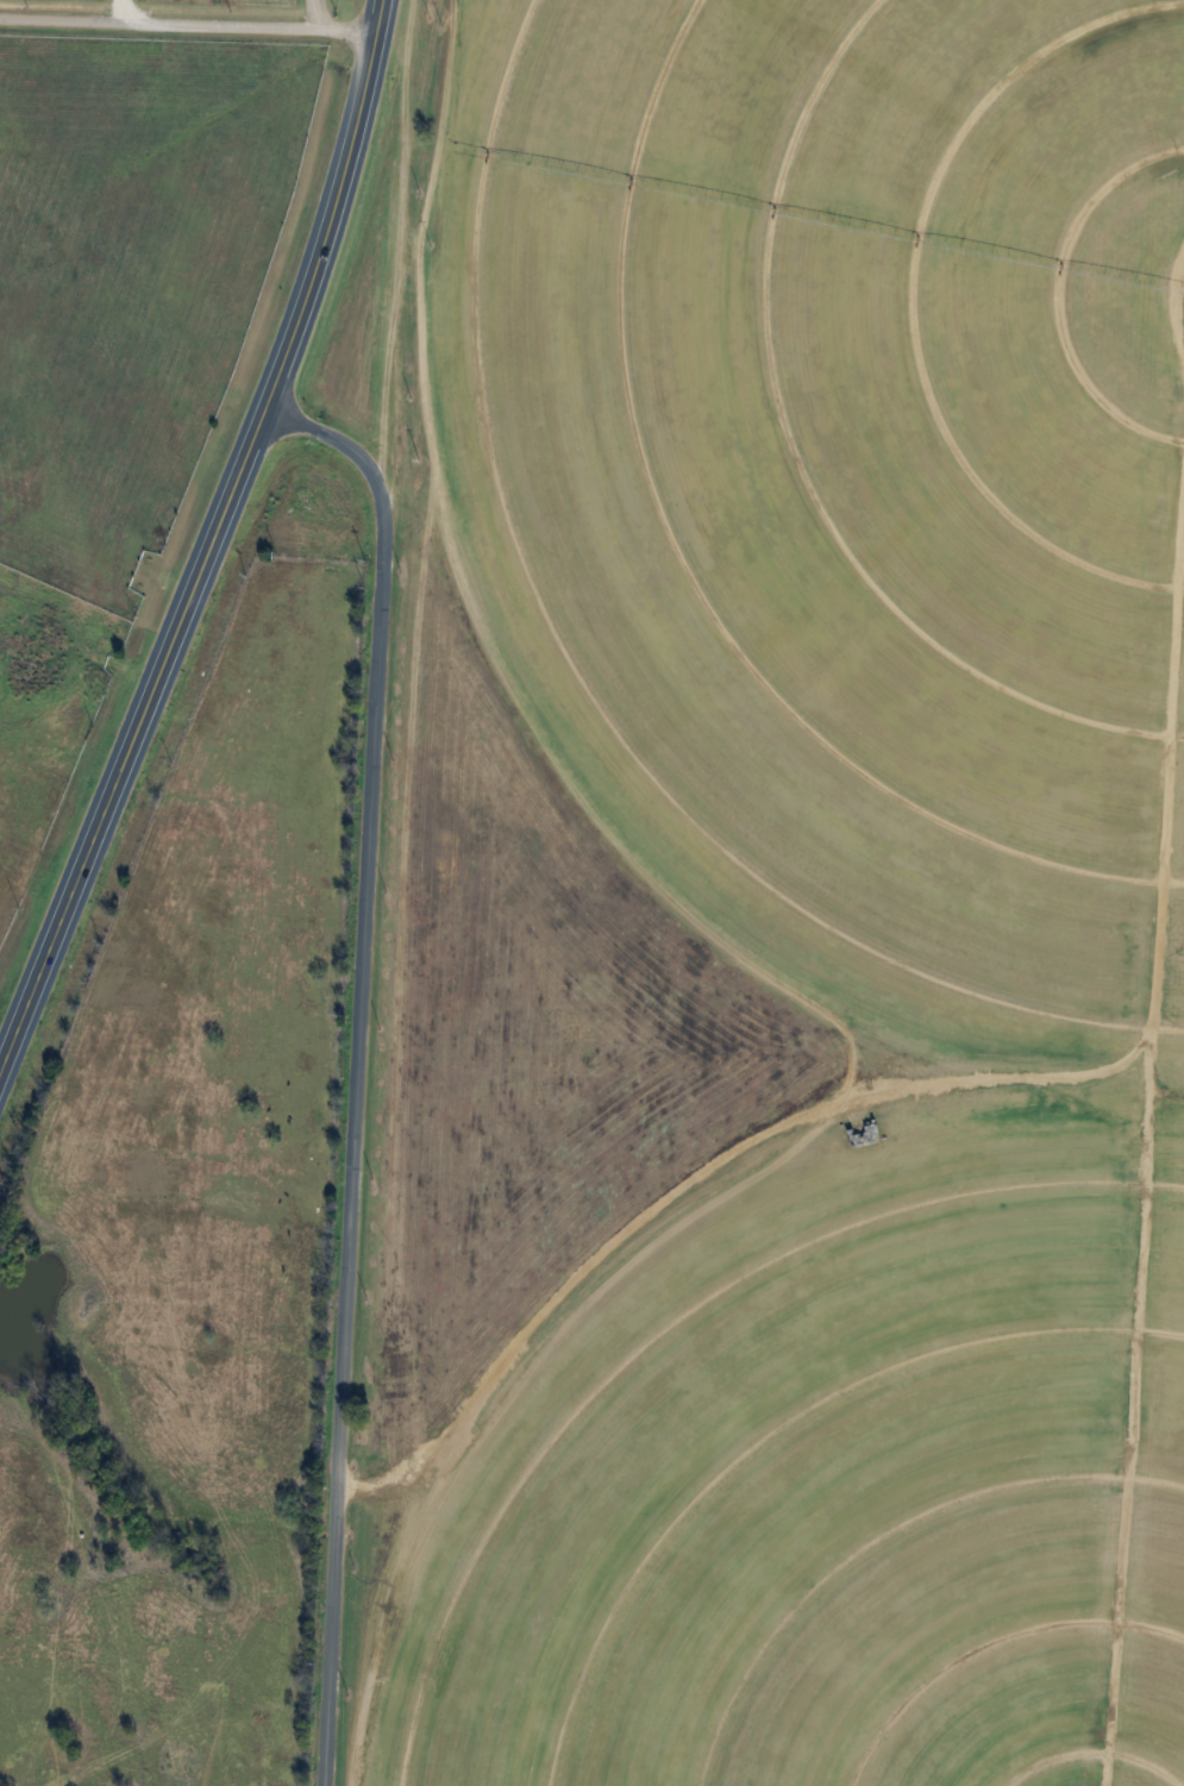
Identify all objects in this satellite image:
road: (124, 11)
road: (317, 13)
road: (190, 23)
road: (337, 207)
road: (131, 737)
road: (356, 1065)

